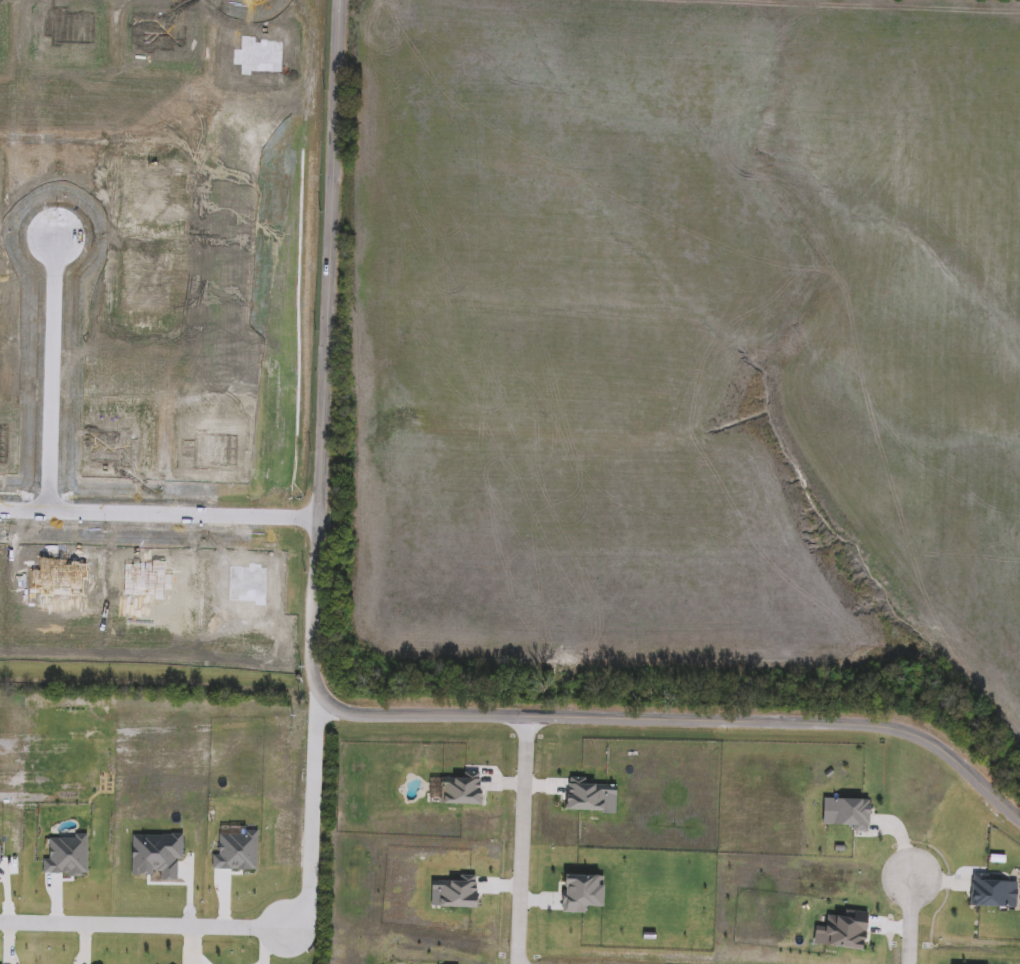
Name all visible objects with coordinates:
road: (51, 374)
road: (159, 514)
road: (336, 707)
road: (311, 815)
road: (521, 838)
building: (232, 852)
building: (63, 856)
building: (153, 859)
road: (907, 916)
road: (142, 924)

